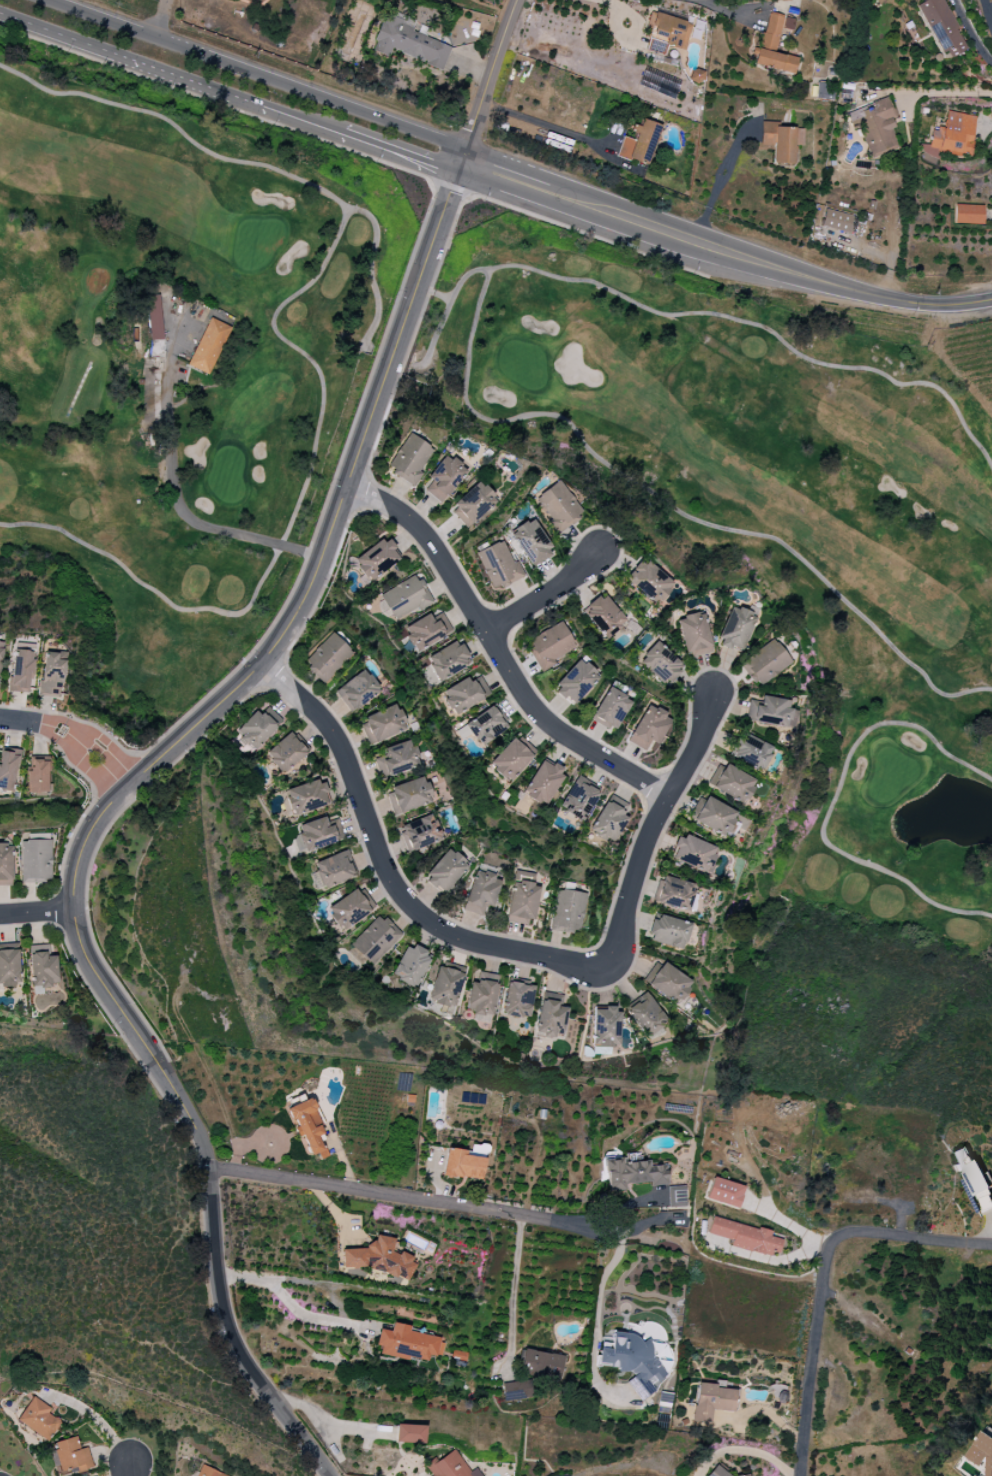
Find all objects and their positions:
road: (989, 8)
road: (160, 20)
building: (942, 27)
road: (971, 32)
building: (666, 34)
road: (66, 38)
building: (408, 42)
building: (772, 47)
road: (257, 75)
building: (695, 76)
road: (489, 81)
building: (822, 92)
road: (941, 92)
road: (236, 99)
building: (875, 126)
road: (565, 134)
road: (612, 137)
building: (951, 137)
building: (780, 141)
building: (639, 142)
road: (400, 156)
road: (719, 184)
road: (586, 206)
building: (968, 214)
building: (836, 221)
road: (849, 288)
building: (154, 317)
building: (208, 346)
park: (753, 444)
building: (409, 459)
building: (443, 478)
road: (172, 489)
building: (472, 504)
building: (558, 506)
building: (375, 560)
building: (497, 566)
building: (648, 581)
road: (547, 595)
building: (405, 597)
building: (603, 615)
building: (735, 629)
building: (426, 630)
building: (694, 635)
road: (496, 644)
building: (549, 646)
building: (327, 658)
building: (0, 659)
building: (447, 660)
building: (660, 663)
building: (765, 663)
building: (21, 671)
building: (52, 674)
building: (575, 682)
building: (357, 691)
building: (464, 694)
building: (610, 709)
building: (771, 712)
building: (382, 724)
building: (485, 726)
building: (648, 728)
building: (257, 729)
road: (71, 735)
building: (749, 751)
building: (285, 753)
building: (397, 758)
building: (509, 760)
building: (8, 769)
building: (36, 775)
building: (542, 782)
building: (730, 783)
building: (409, 795)
building: (306, 797)
building: (578, 798)
road: (111, 802)
building: (711, 815)
building: (609, 818)
road: (642, 821)
building: (418, 833)
building: (318, 834)
building: (692, 853)
building: (35, 861)
building: (5, 864)
road: (382, 869)
building: (333, 870)
building: (445, 870)
building: (481, 893)
building: (673, 893)
building: (521, 900)
building: (349, 909)
road: (38, 911)
building: (568, 911)
building: (668, 932)
building: (375, 940)
building: (410, 965)
building: (42, 967)
building: (9, 968)
building: (666, 982)
building: (445, 987)
building: (481, 998)
building: (517, 1000)
building: (550, 1016)
building: (646, 1016)
building: (605, 1027)
building: (307, 1126)
building: (463, 1165)
building: (633, 1174)
building: (972, 1177)
building: (724, 1192)
building: (676, 1196)
road: (402, 1197)
building: (744, 1237)
building: (379, 1259)
road: (603, 1273)
road: (822, 1277)
road: (512, 1284)
road: (287, 1301)
building: (407, 1344)
building: (632, 1362)
building: (542, 1364)
building: (516, 1390)
building: (711, 1402)
building: (38, 1419)
building: (410, 1434)
road: (743, 1450)
building: (982, 1452)
building: (71, 1455)
building: (448, 1466)
building: (207, 1472)
building: (716, 1472)
road: (127, 1473)
building: (745, 1475)

